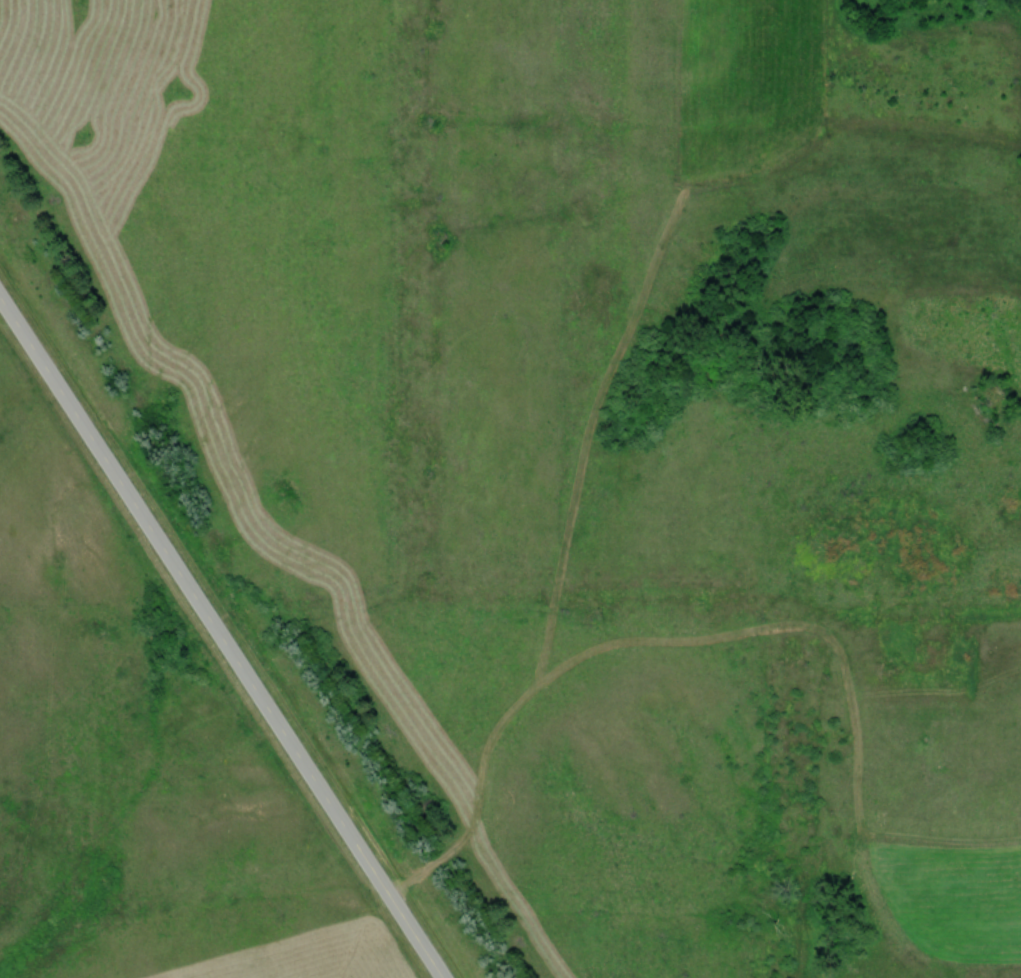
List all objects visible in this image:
road: (222, 636)

